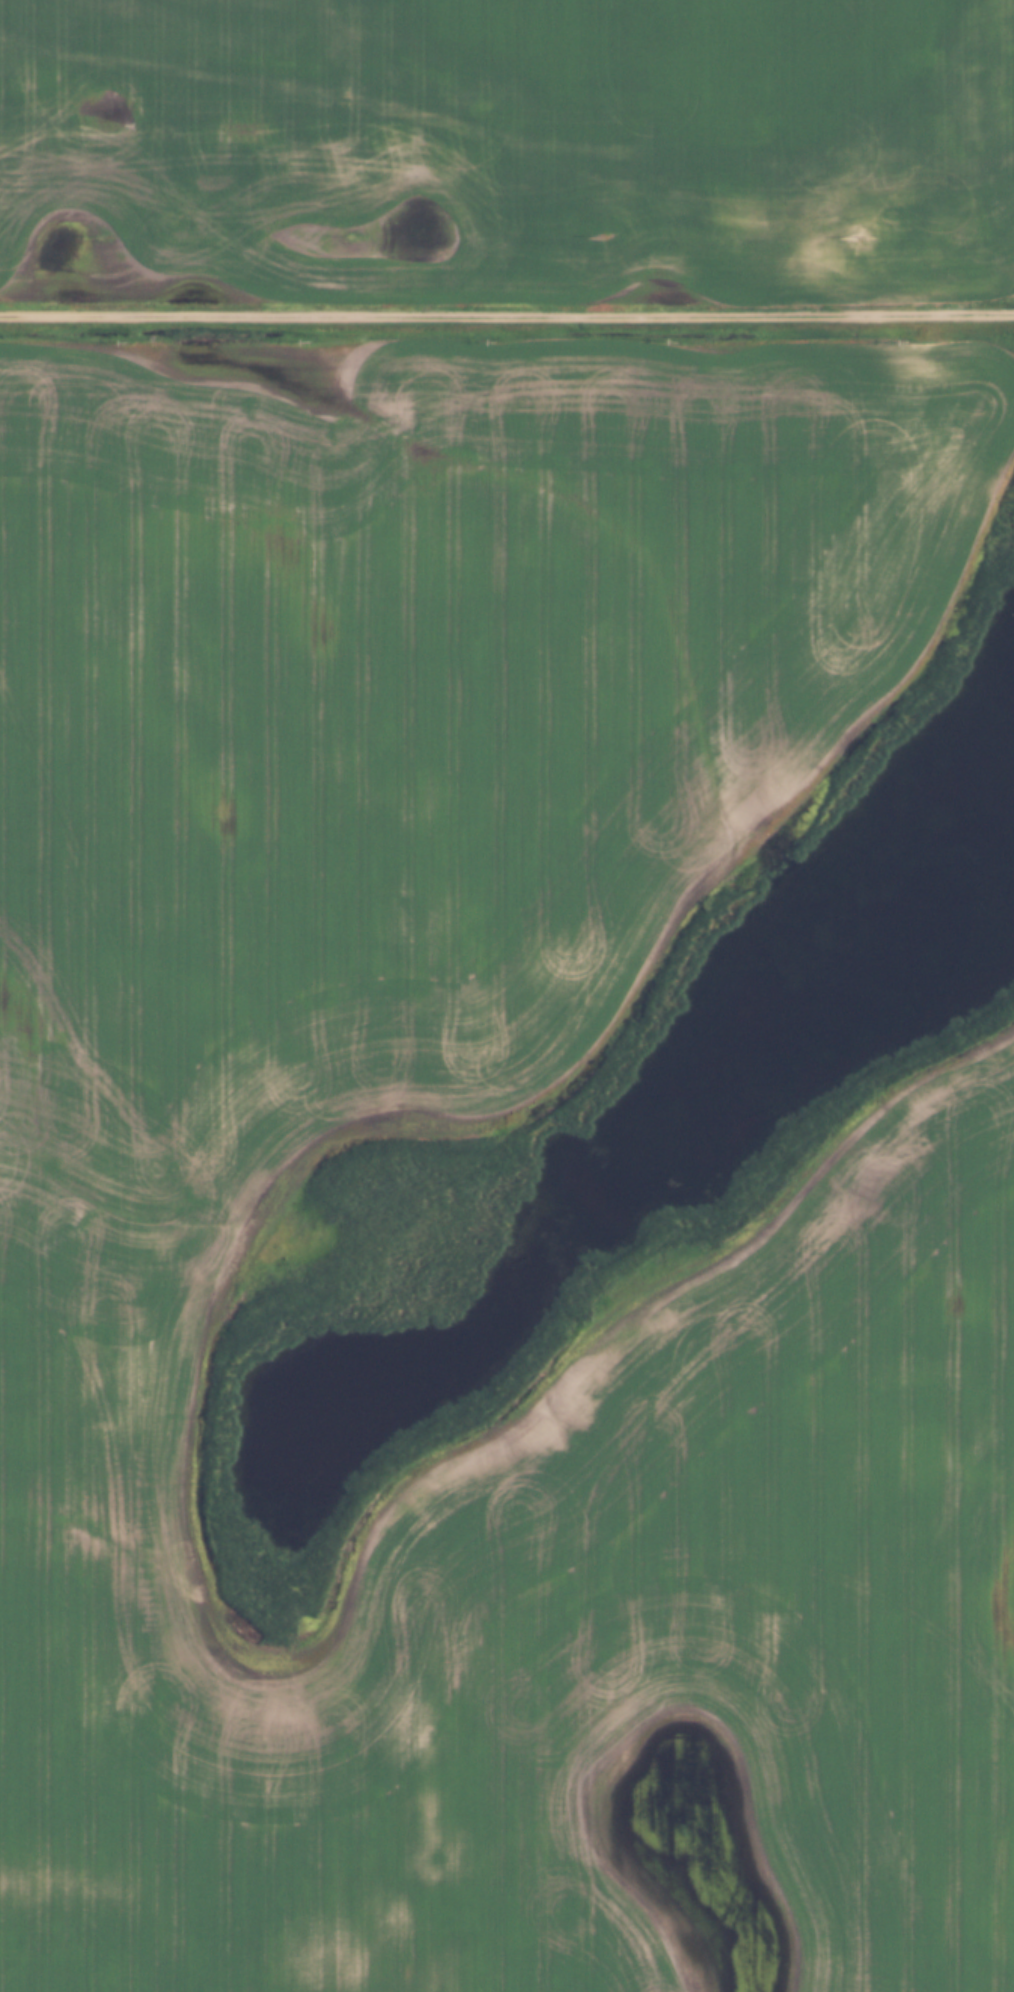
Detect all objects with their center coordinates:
road: (1004, 299)
road: (507, 315)

